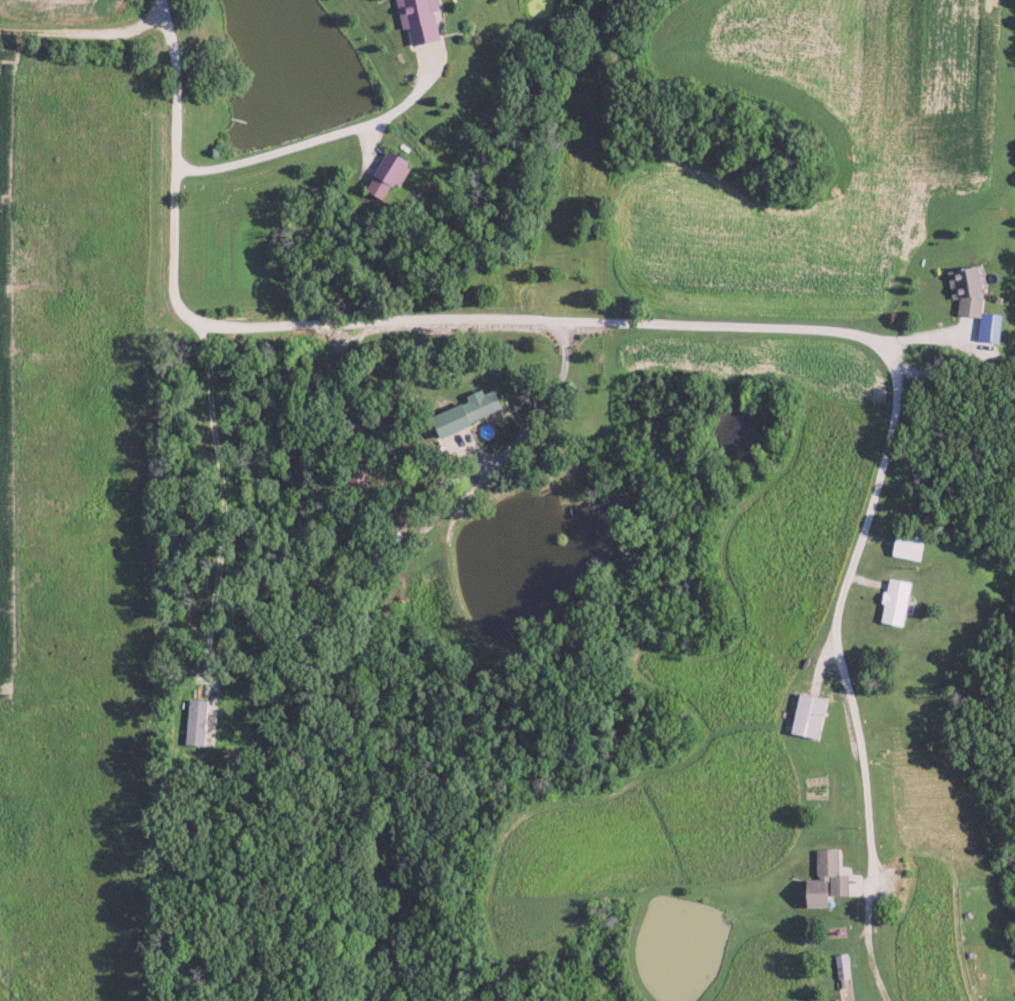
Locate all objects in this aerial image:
building: (422, 19)
road: (86, 29)
building: (389, 173)
building: (977, 301)
road: (713, 326)
building: (472, 411)
building: (359, 473)
building: (912, 546)
building: (898, 601)
building: (812, 716)
building: (198, 721)
building: (829, 880)
building: (844, 965)

